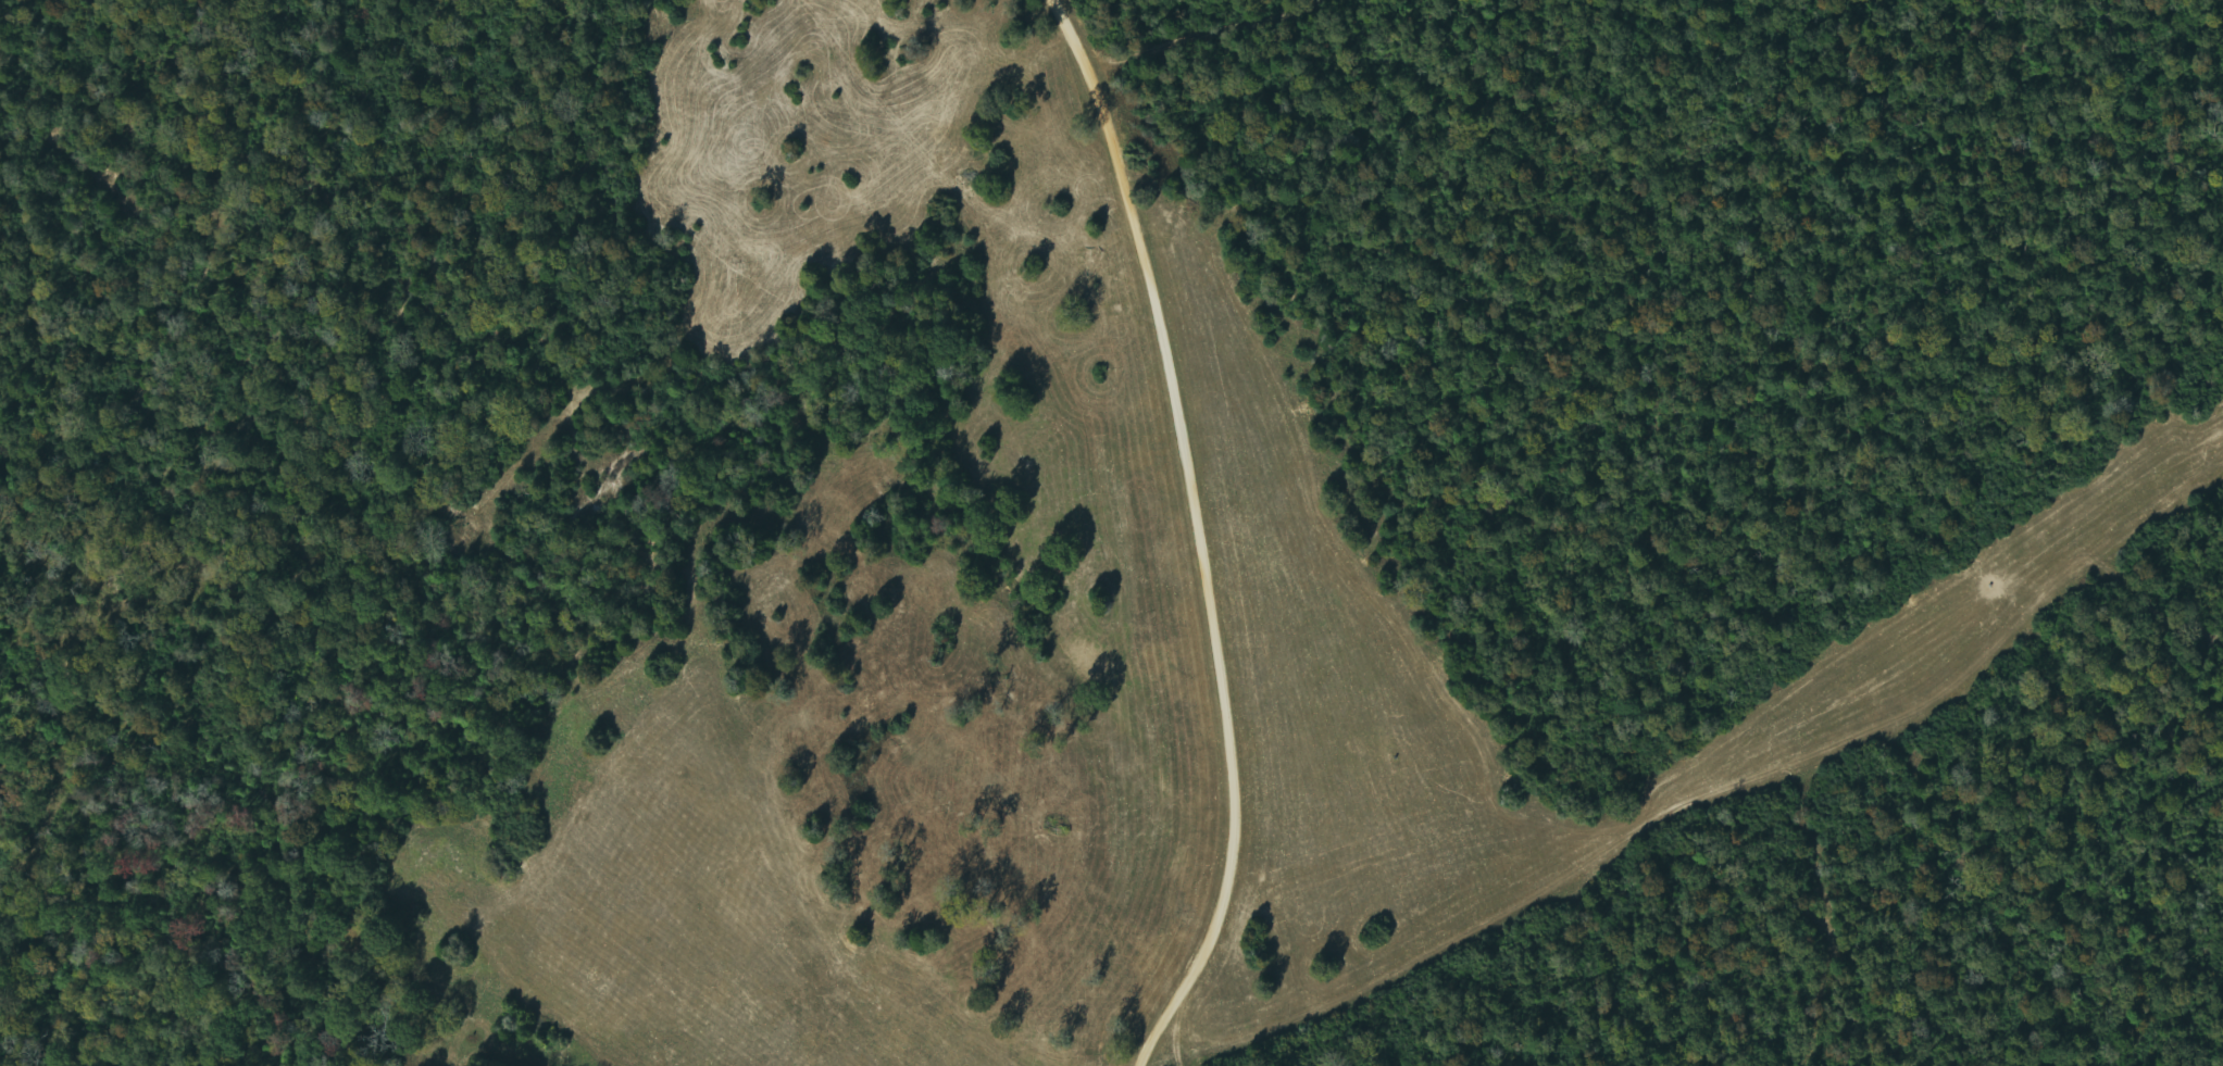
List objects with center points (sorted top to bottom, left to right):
road: (1196, 536)

